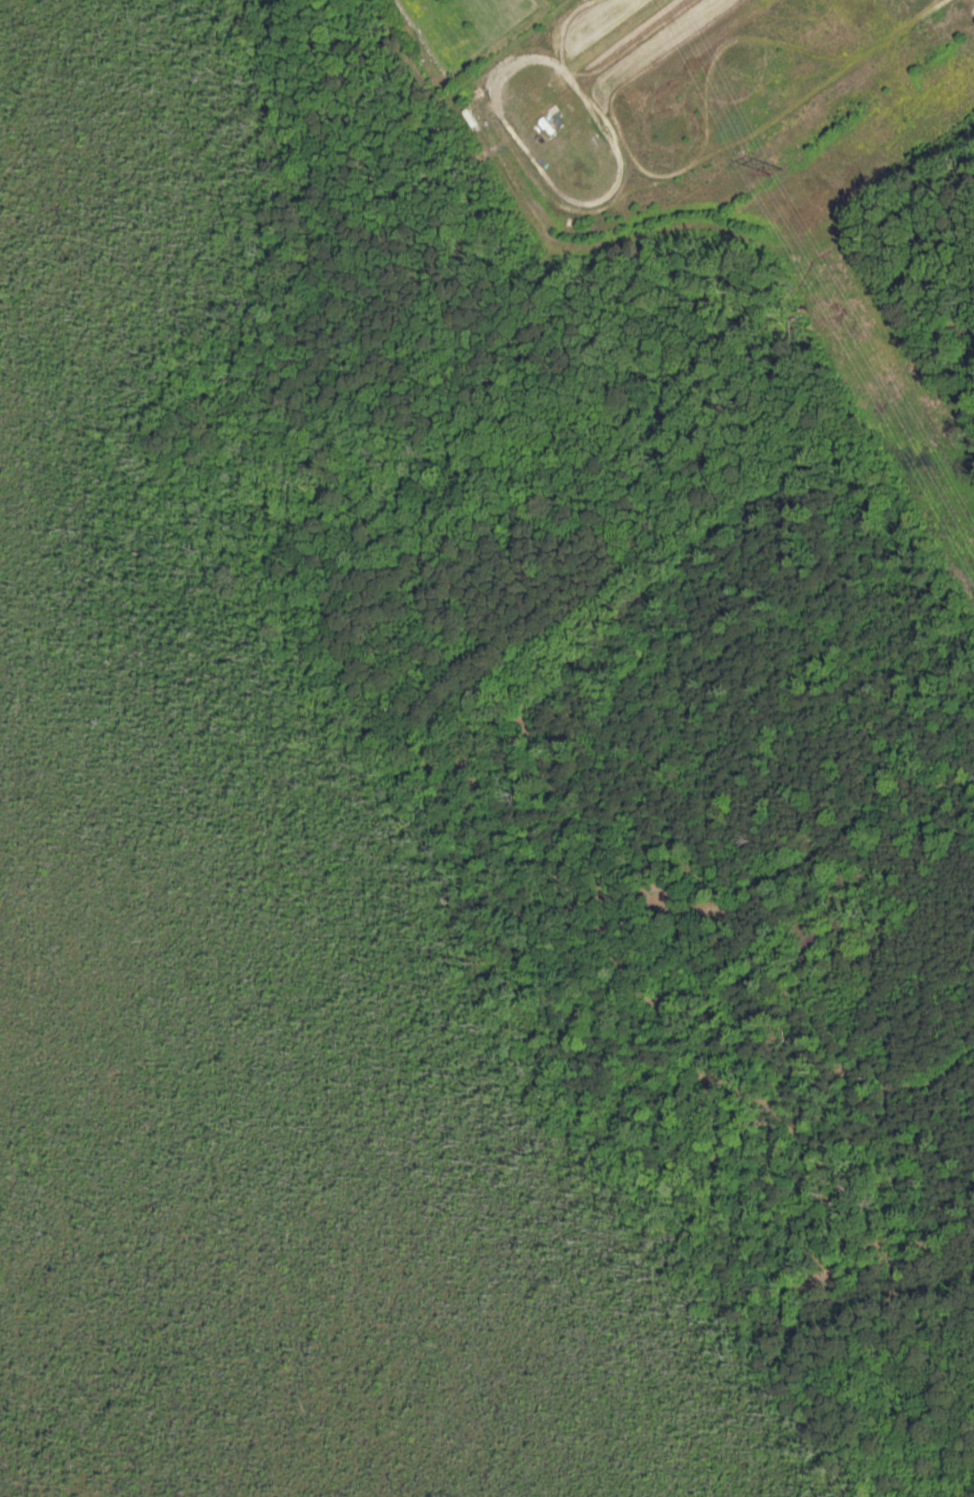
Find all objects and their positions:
building: (889, 96)
power tower: (778, 171)

